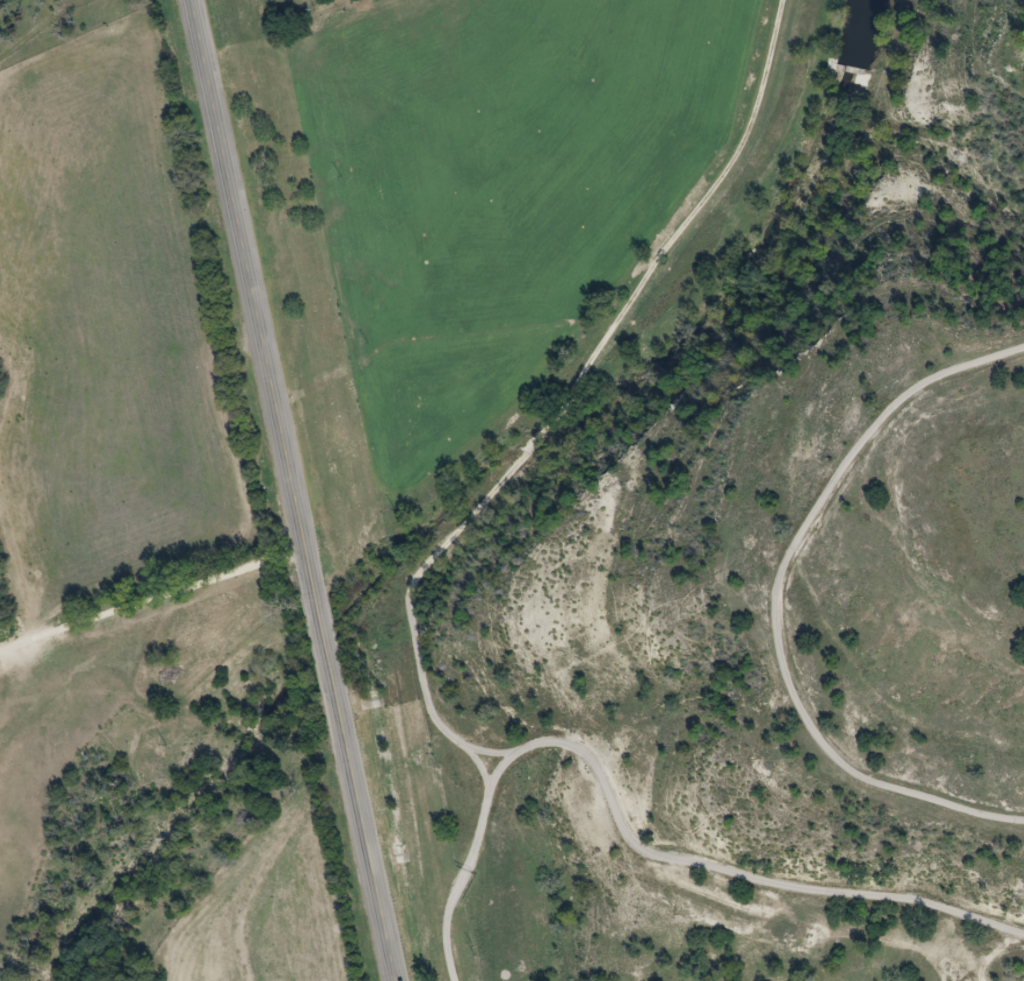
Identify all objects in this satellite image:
road: (295, 490)
road: (154, 605)

